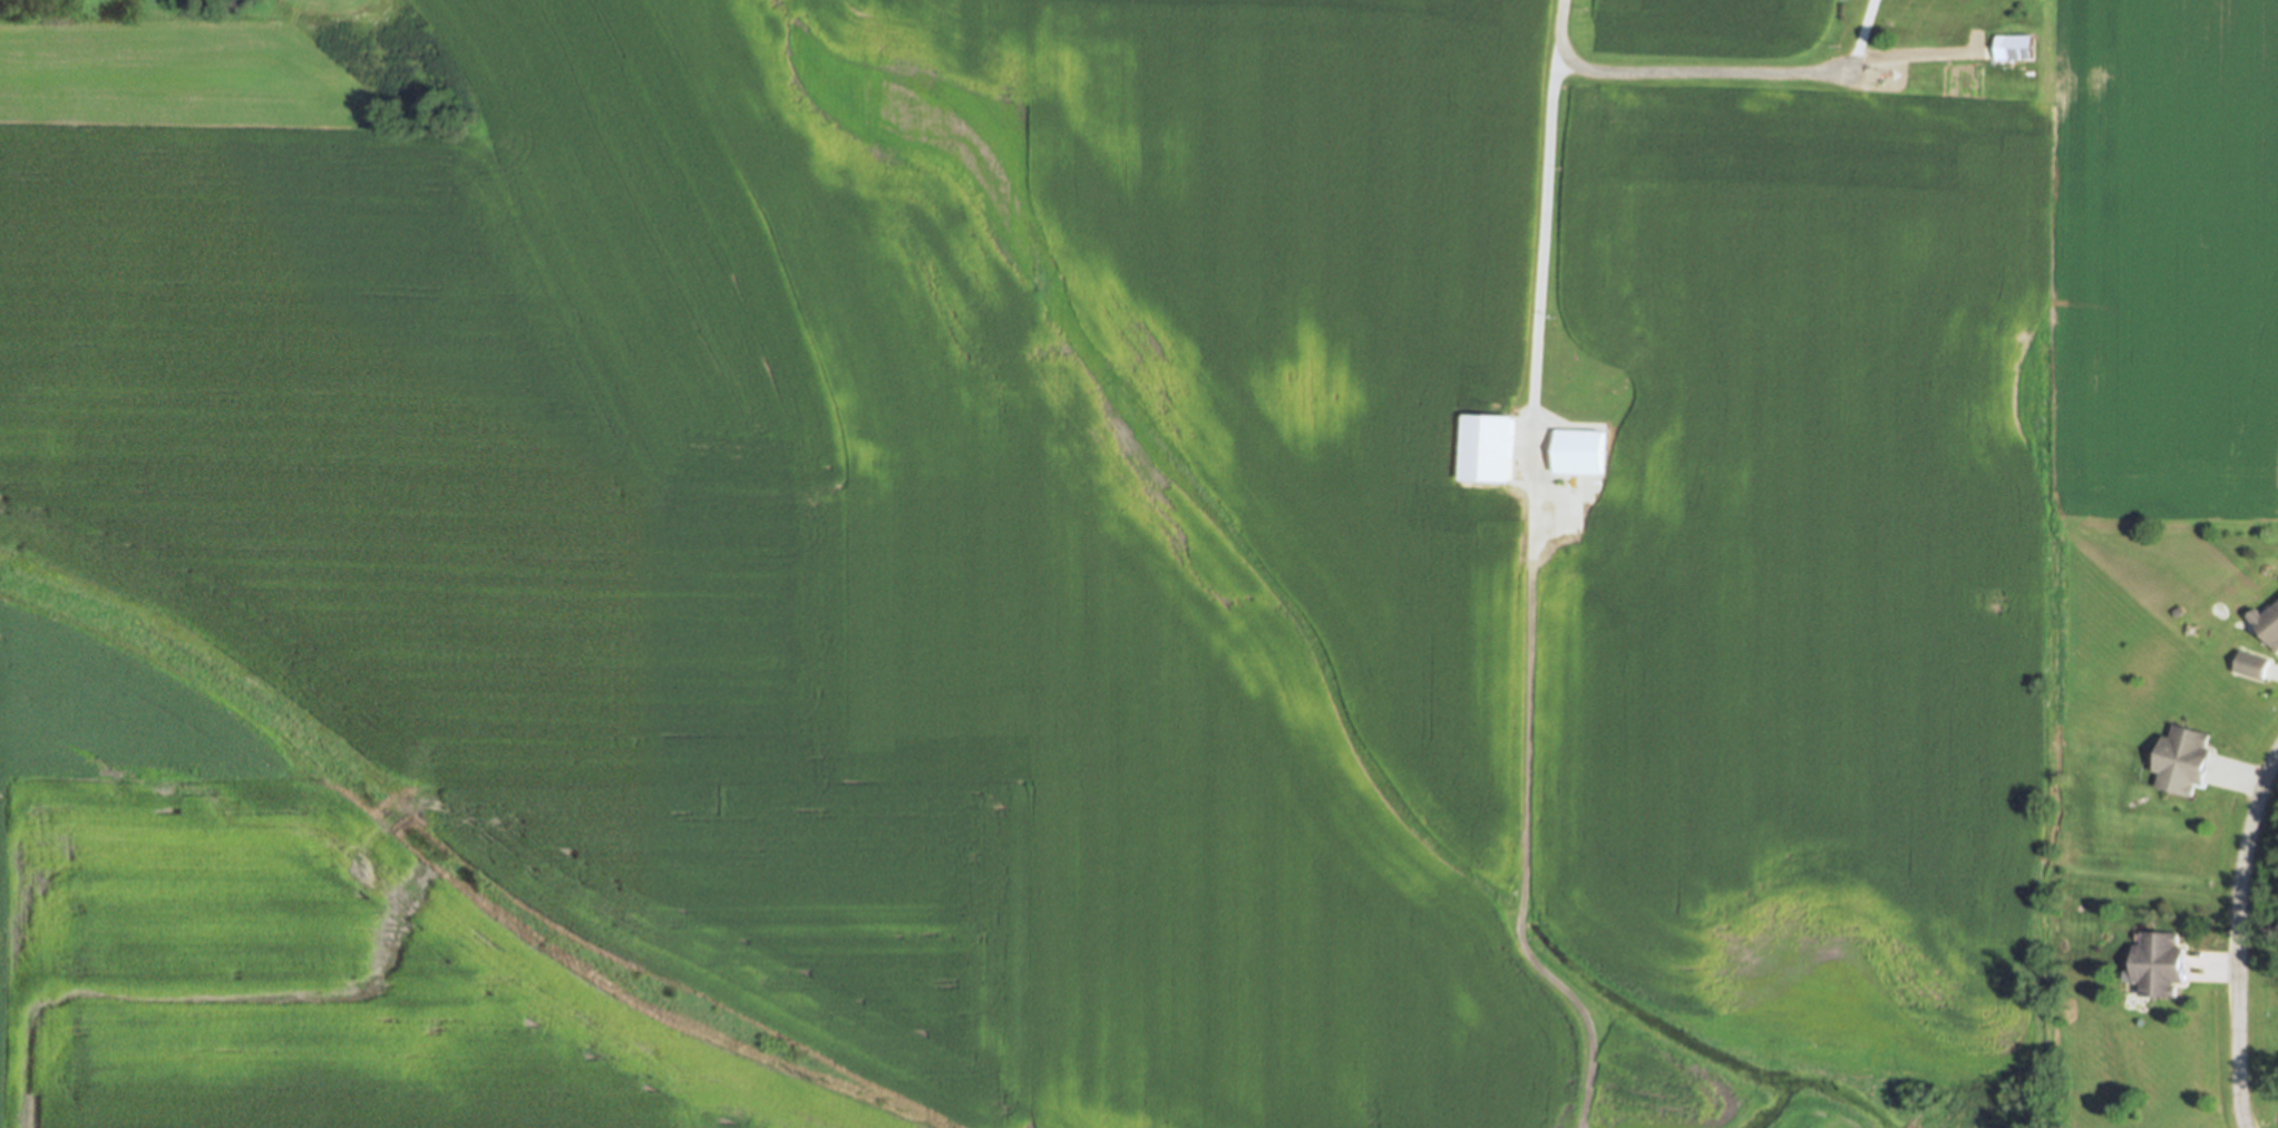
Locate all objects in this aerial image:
road: (1858, 36)
building: (2013, 49)
road: (1914, 56)
road: (1673, 72)
building: (1579, 451)
building: (1567, 519)
building: (2267, 623)
building: (2253, 664)
road: (1529, 693)
building: (2183, 759)
road: (2239, 937)
building: (2160, 964)

